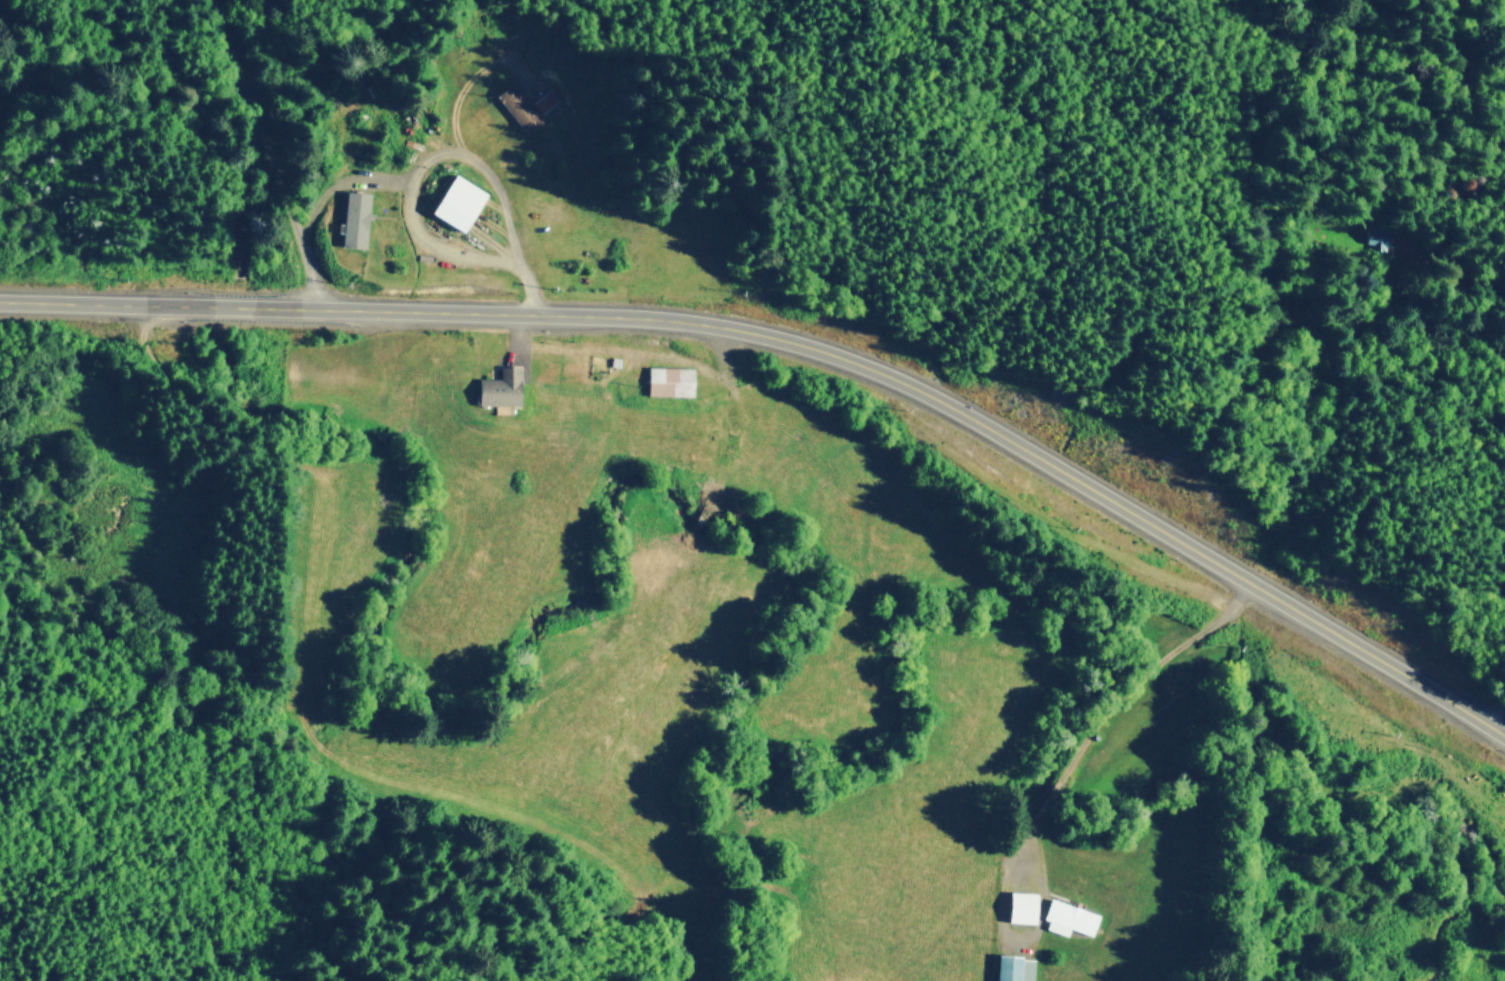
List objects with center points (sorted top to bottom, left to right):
road: (458, 96)
building: (515, 107)
road: (268, 150)
road: (444, 152)
building: (452, 202)
building: (350, 219)
road: (802, 342)
building: (666, 381)
building: (495, 388)
building: (1017, 907)
building: (1066, 918)
building: (1010, 969)

